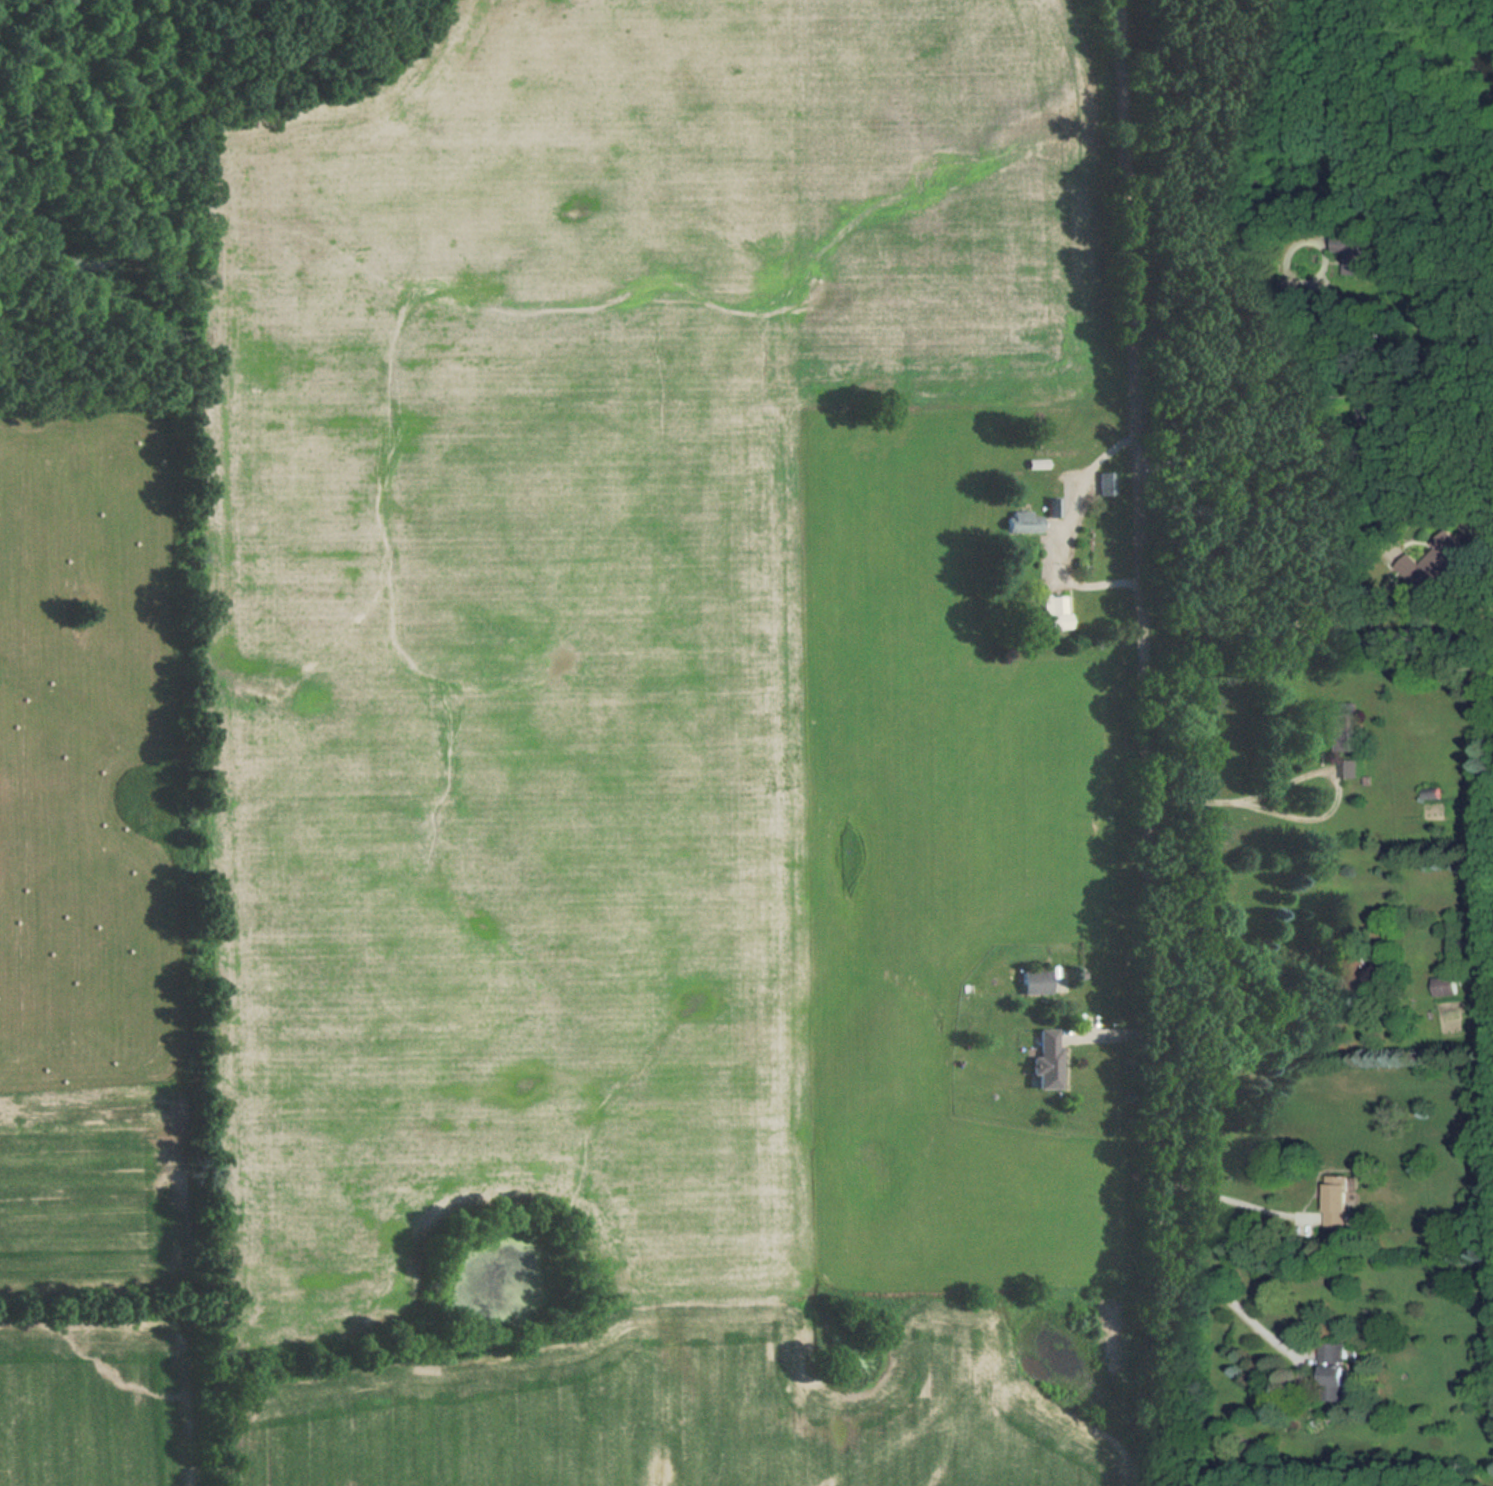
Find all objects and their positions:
road: (1248, 308)
road: (1371, 439)
building: (1105, 484)
building: (1021, 522)
road: (1063, 529)
building: (1053, 613)
building: (1339, 732)
road: (1148, 742)
road: (1308, 816)
road: (1231, 976)
building: (1037, 981)
building: (1446, 987)
road: (1115, 1030)
building: (1048, 1059)
building: (1338, 1202)
road: (1241, 1203)
road: (1239, 1310)
building: (1334, 1369)

